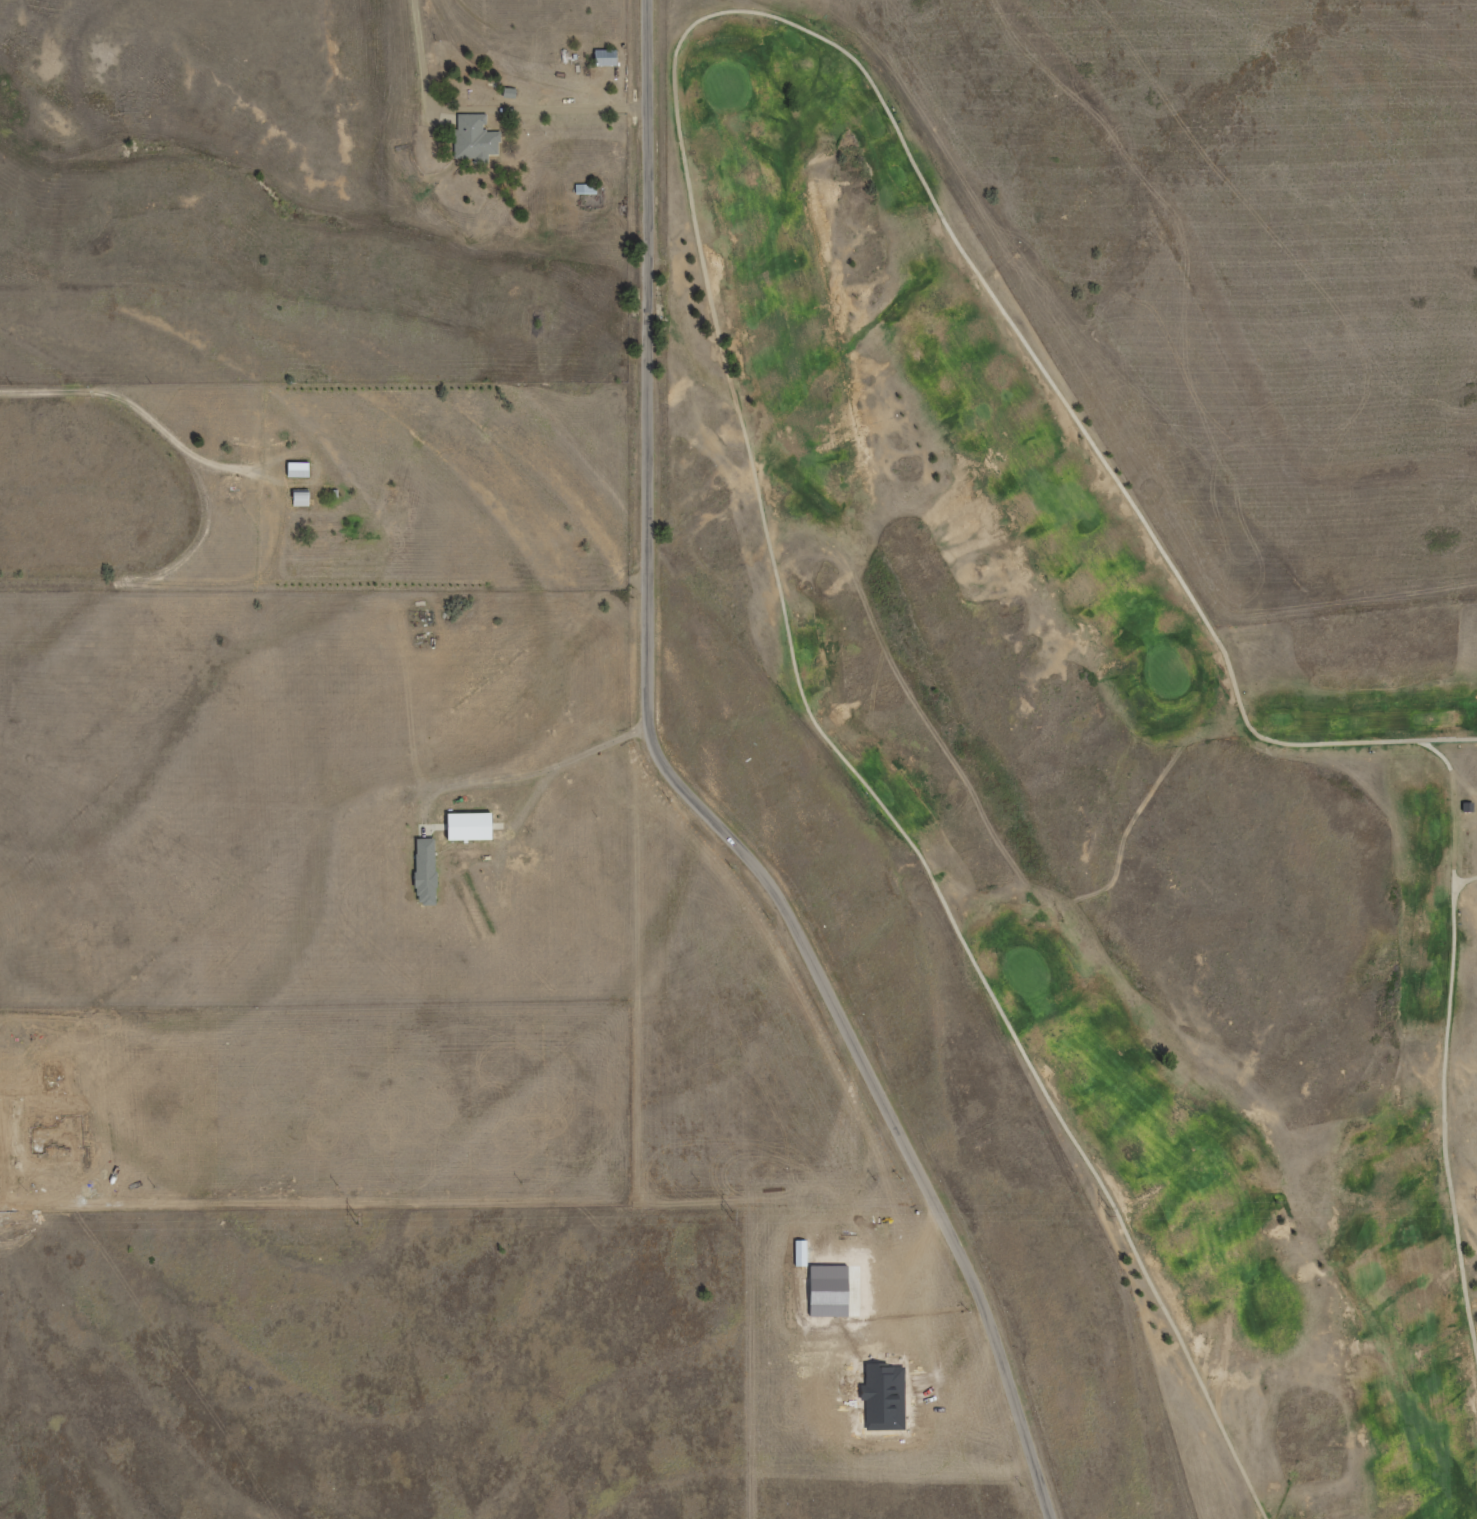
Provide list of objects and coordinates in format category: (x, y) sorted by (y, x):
road: (421, 56)
building: (602, 59)
building: (472, 141)
building: (585, 189)
road: (699, 242)
road: (143, 413)
building: (295, 470)
building: (391, 492)
road: (532, 774)
road: (695, 796)
park: (1073, 805)
building: (1466, 806)
building: (466, 827)
building: (423, 872)
road: (1465, 881)
road: (1445, 1045)

